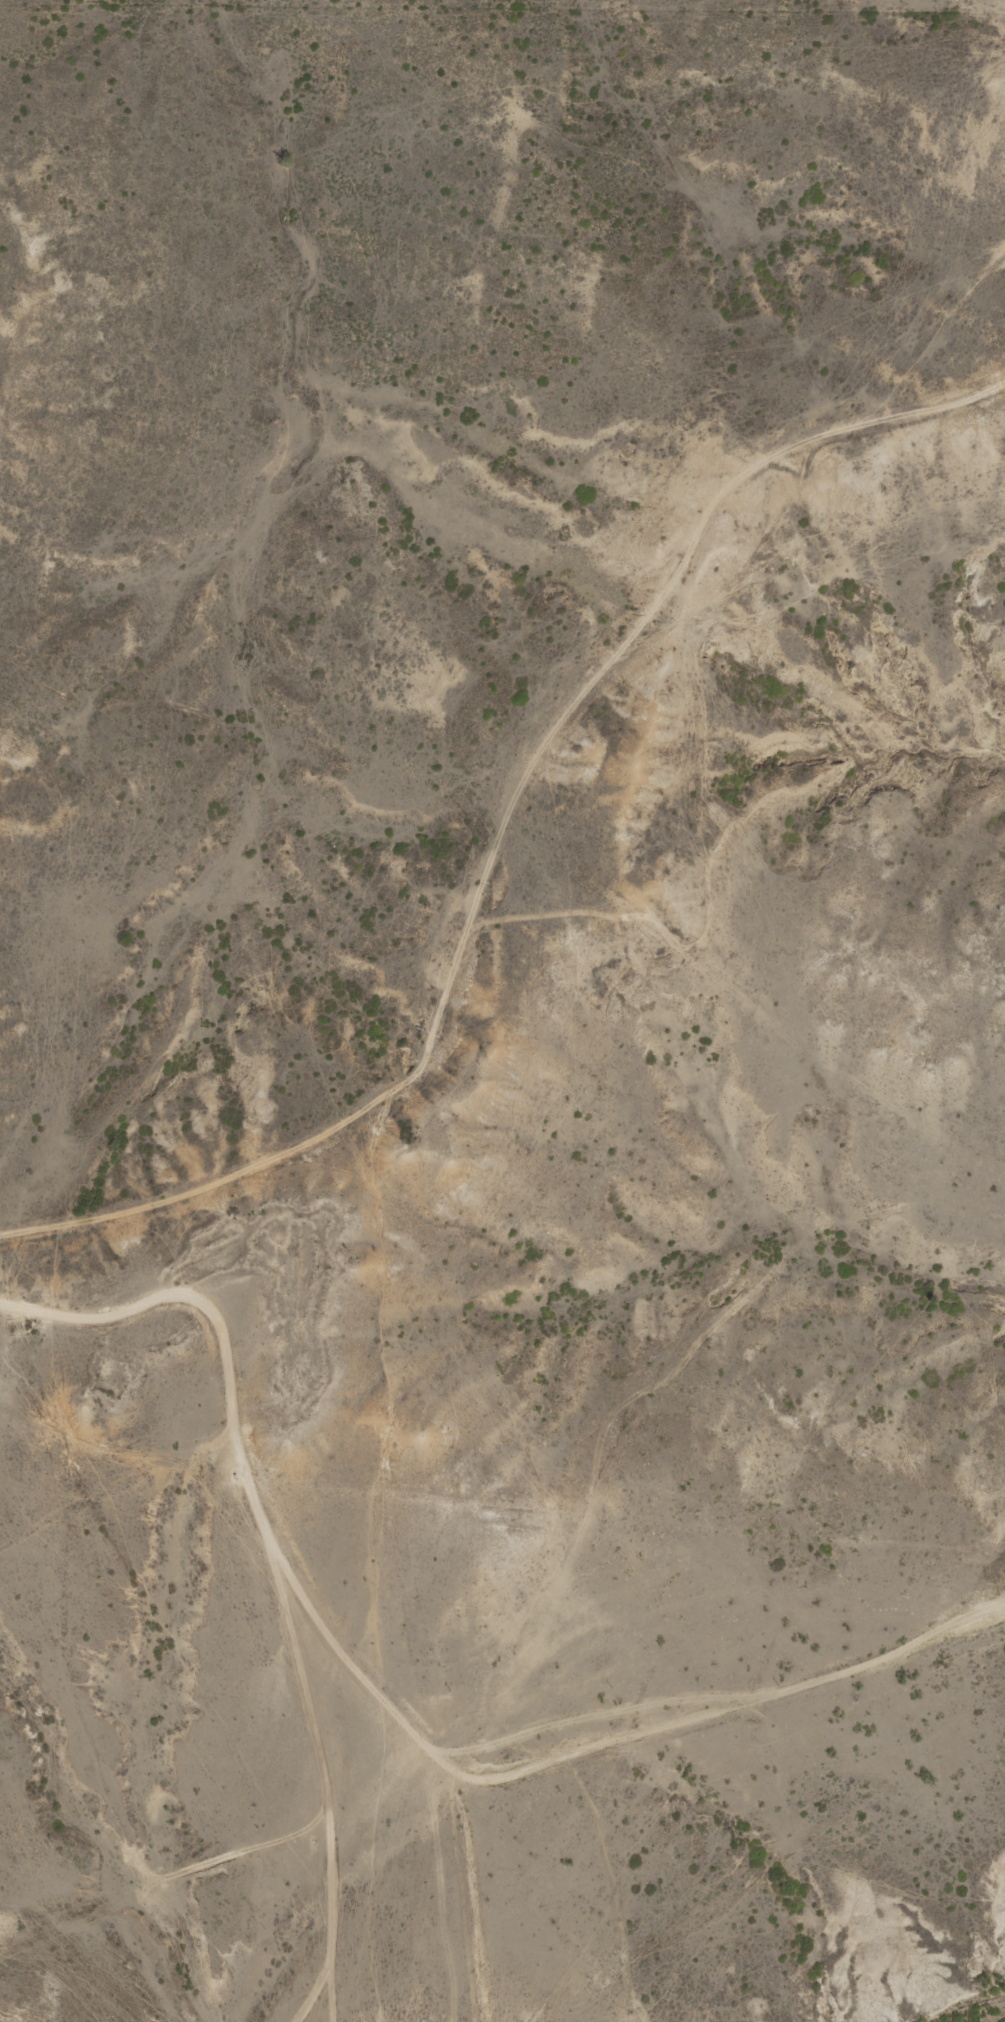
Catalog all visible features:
road: (309, 1583)
road: (656, 1711)

